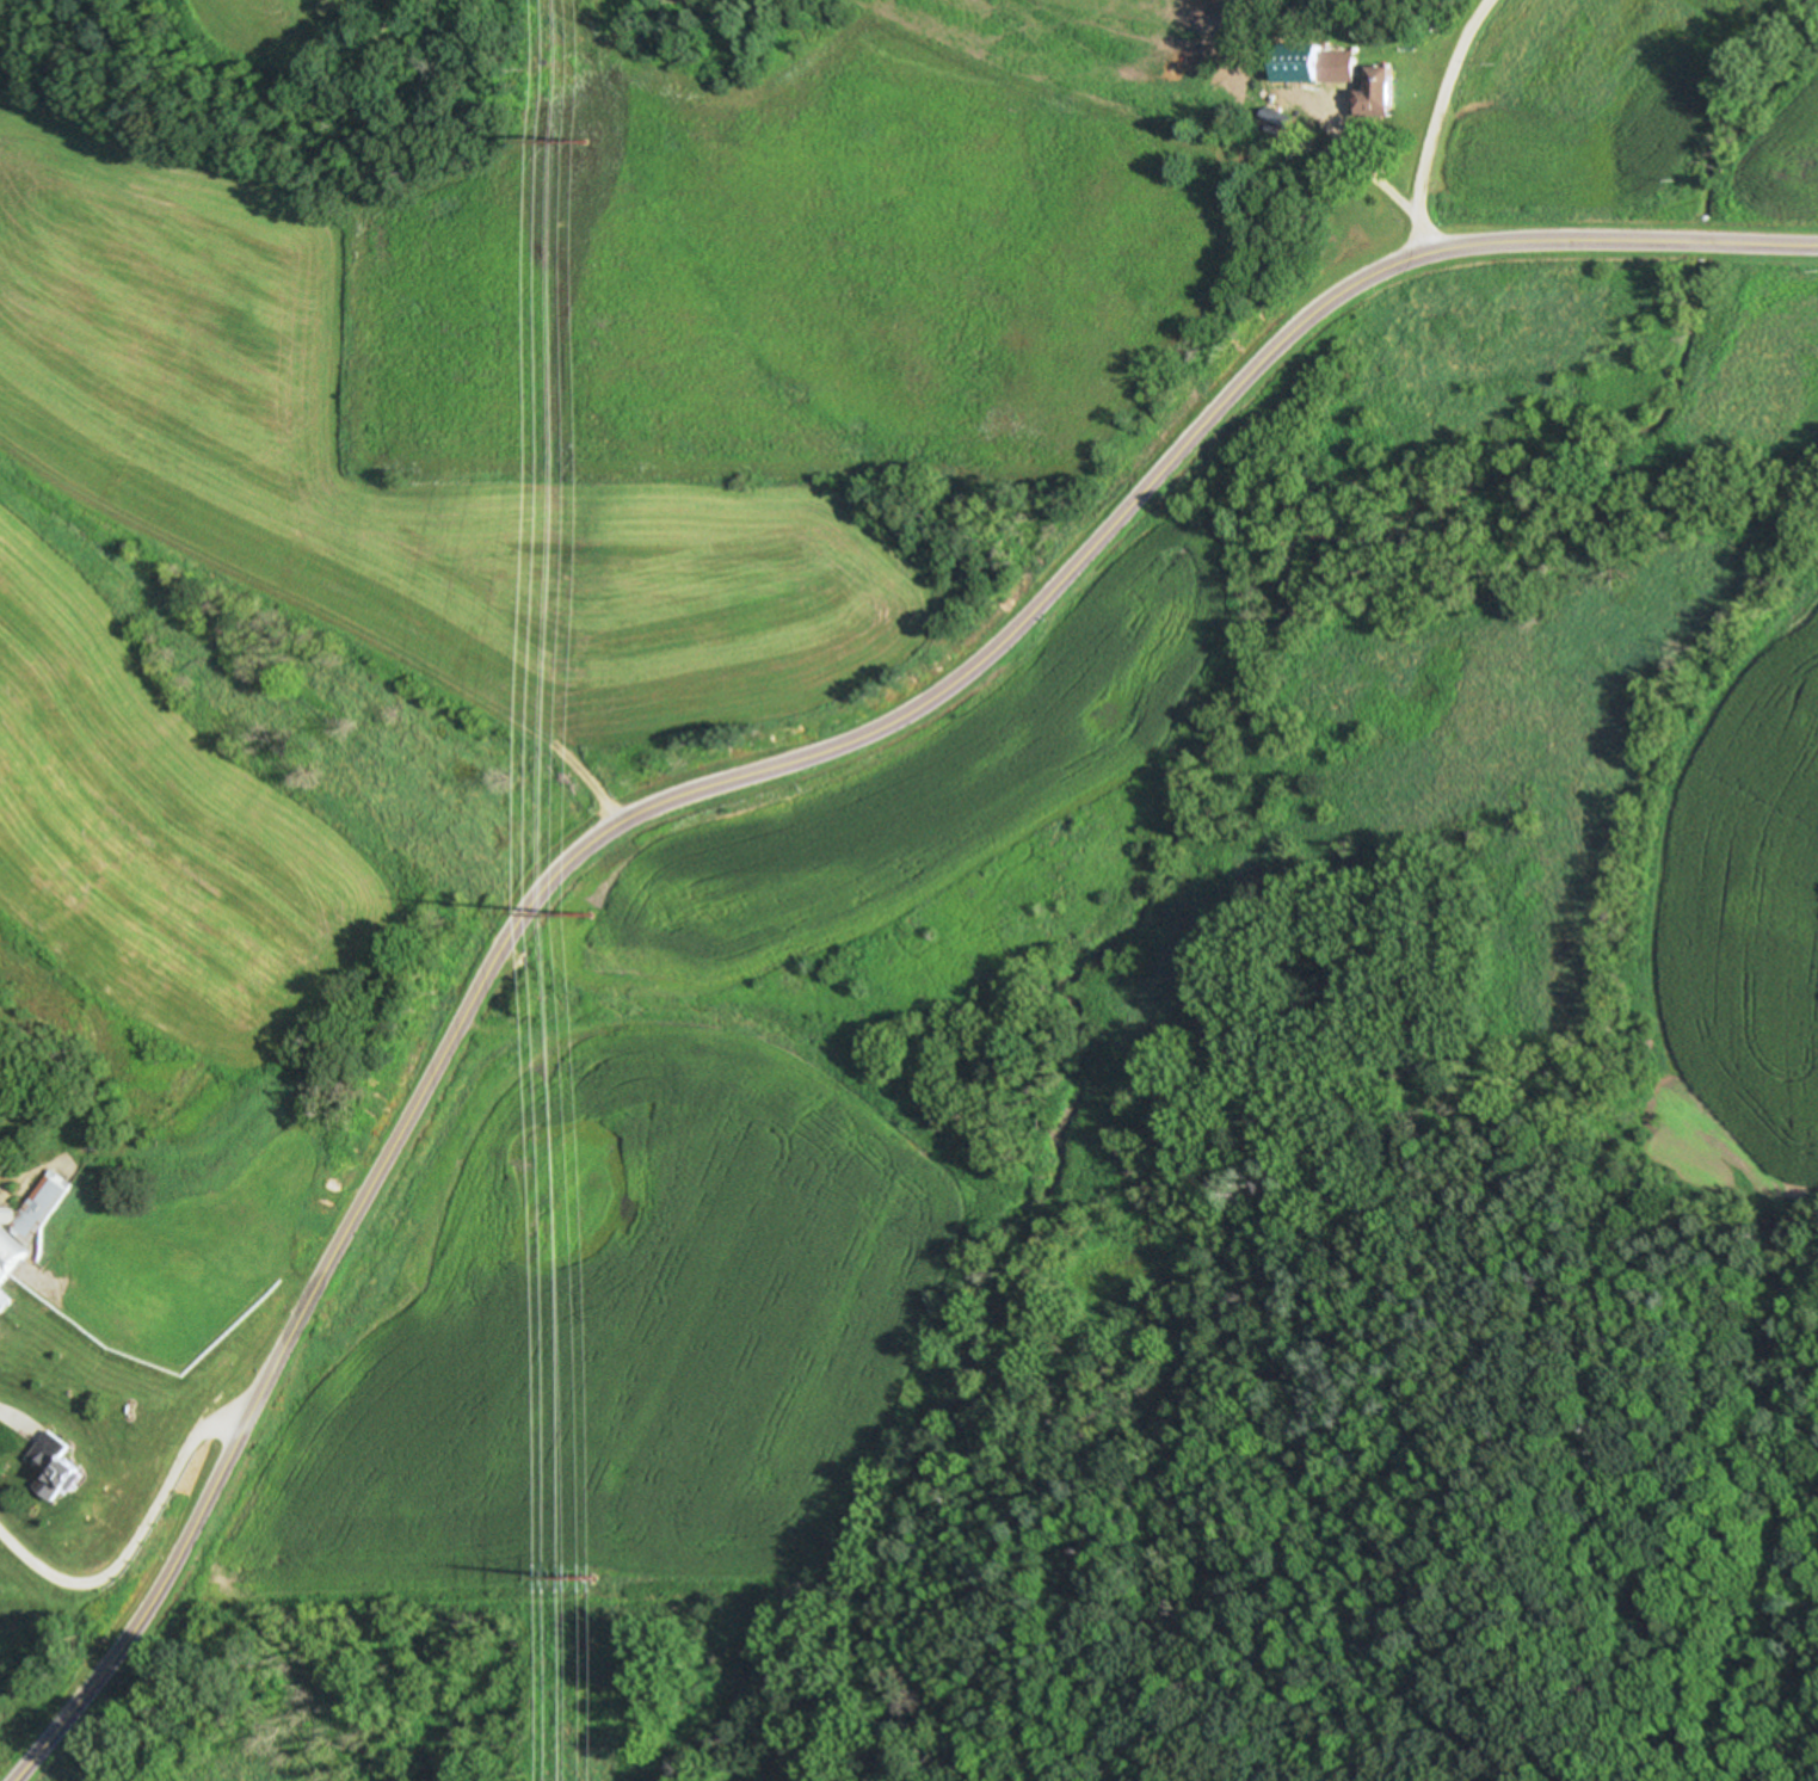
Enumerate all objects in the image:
building: (1331, 64)
building: (1373, 91)
road: (1426, 123)
power tower: (580, 138)
road: (563, 752)
road: (742, 779)
power tower: (585, 911)
building: (35, 1206)
building: (8, 1255)
building: (2, 1301)
building: (53, 1472)
road: (144, 1548)
power tower: (591, 1578)

